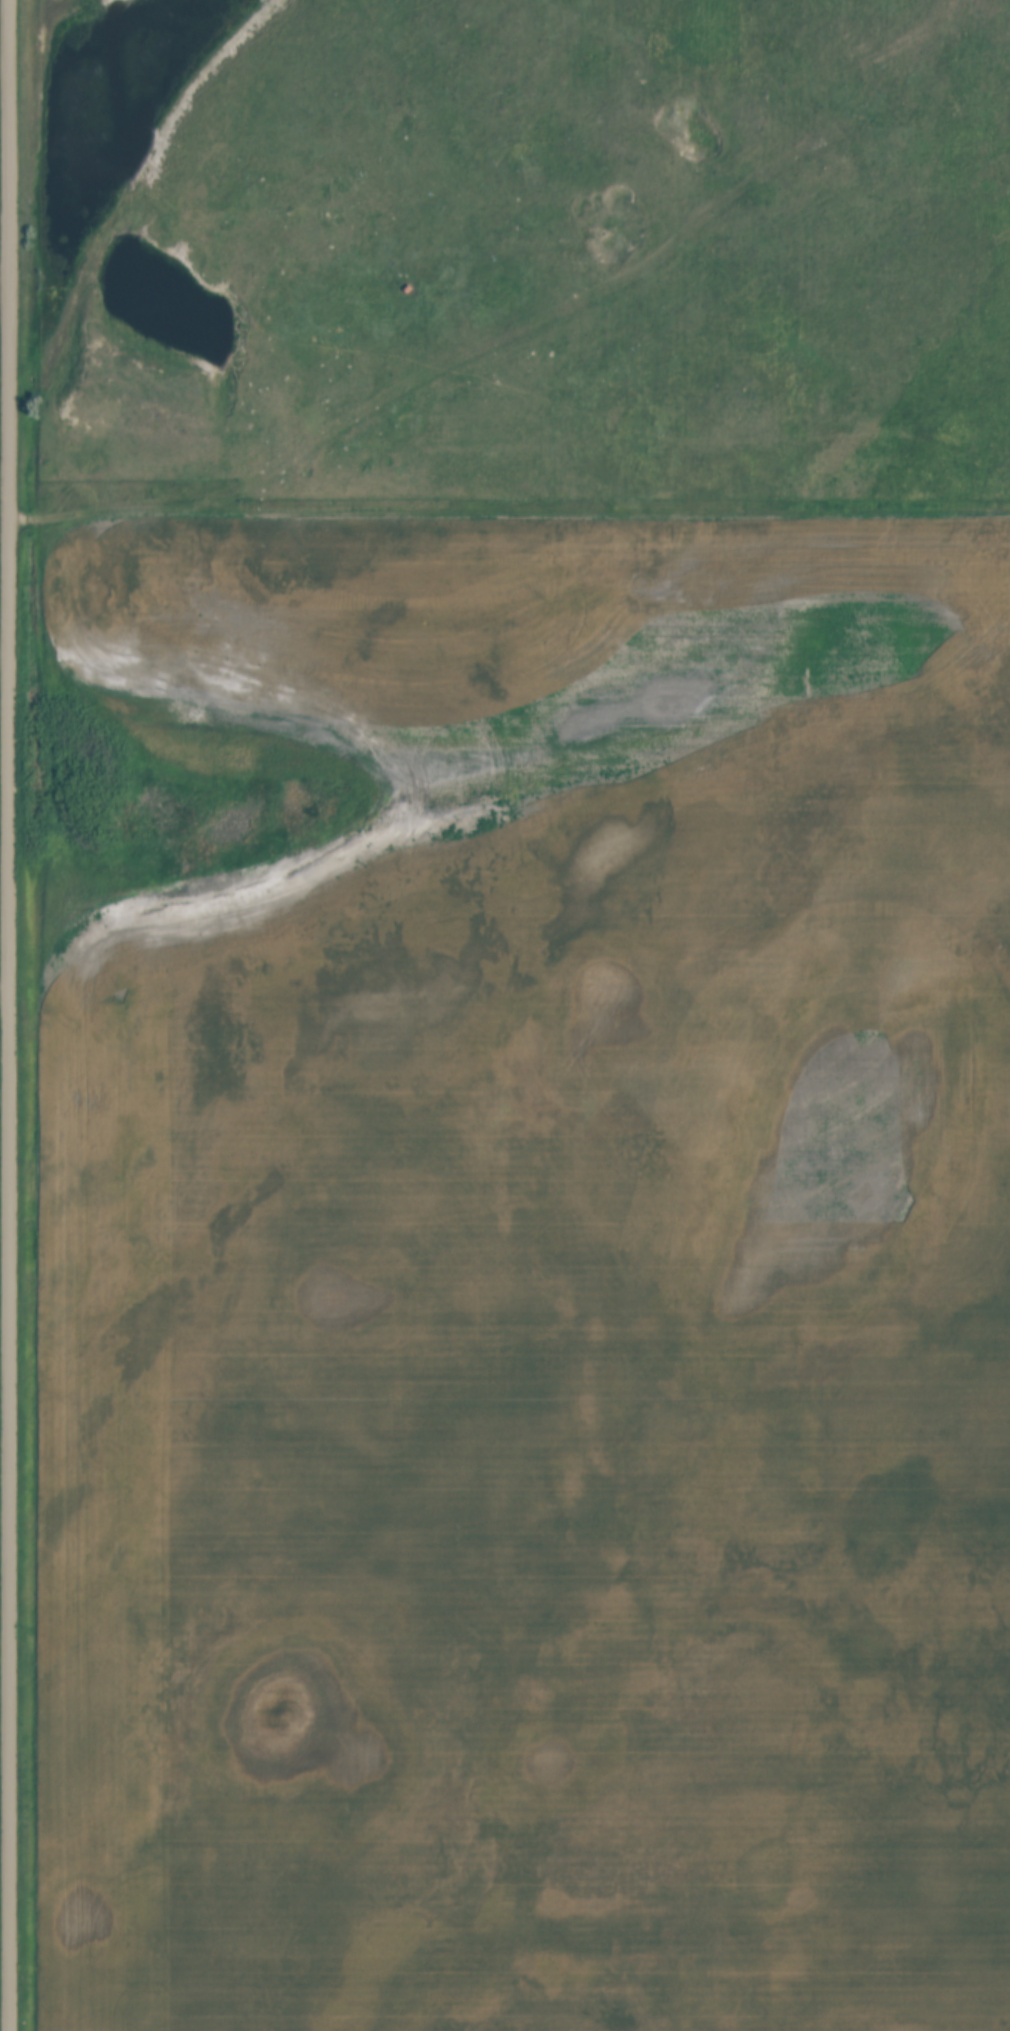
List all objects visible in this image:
road: (512, 512)
road: (7, 994)
road: (13, 1015)

